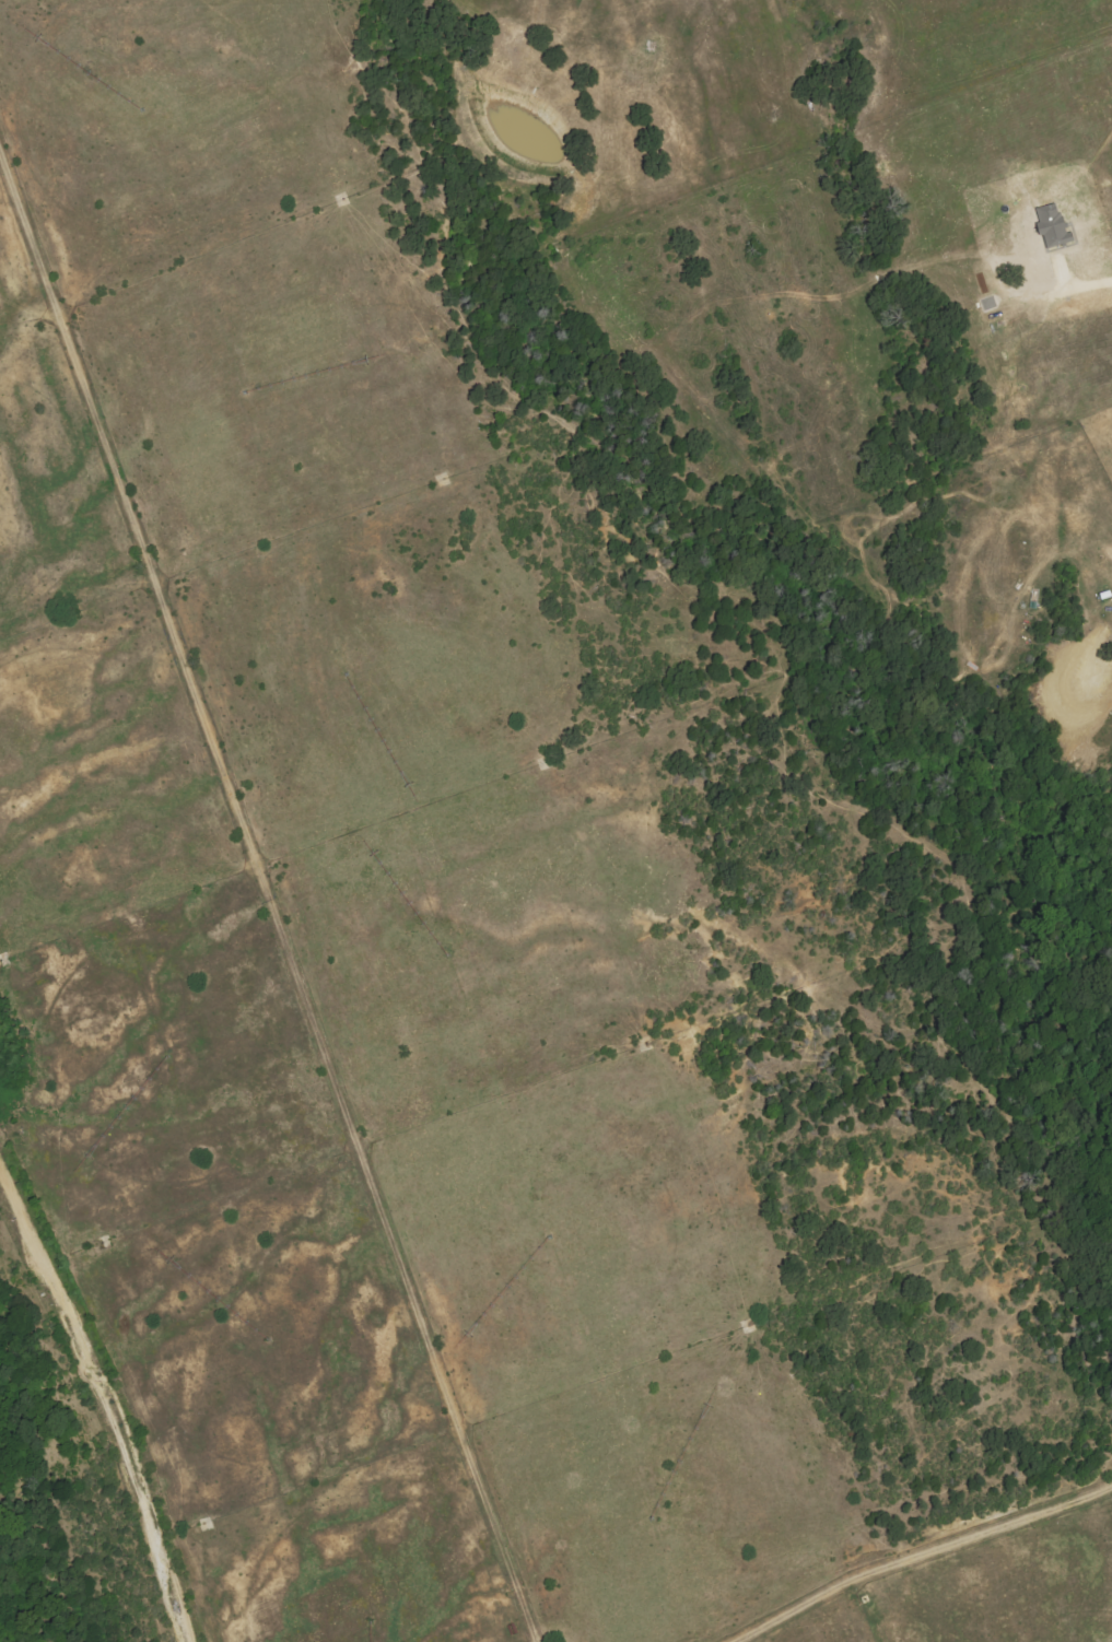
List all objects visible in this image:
building: (1052, 224)
road: (1087, 280)
road: (101, 1403)

